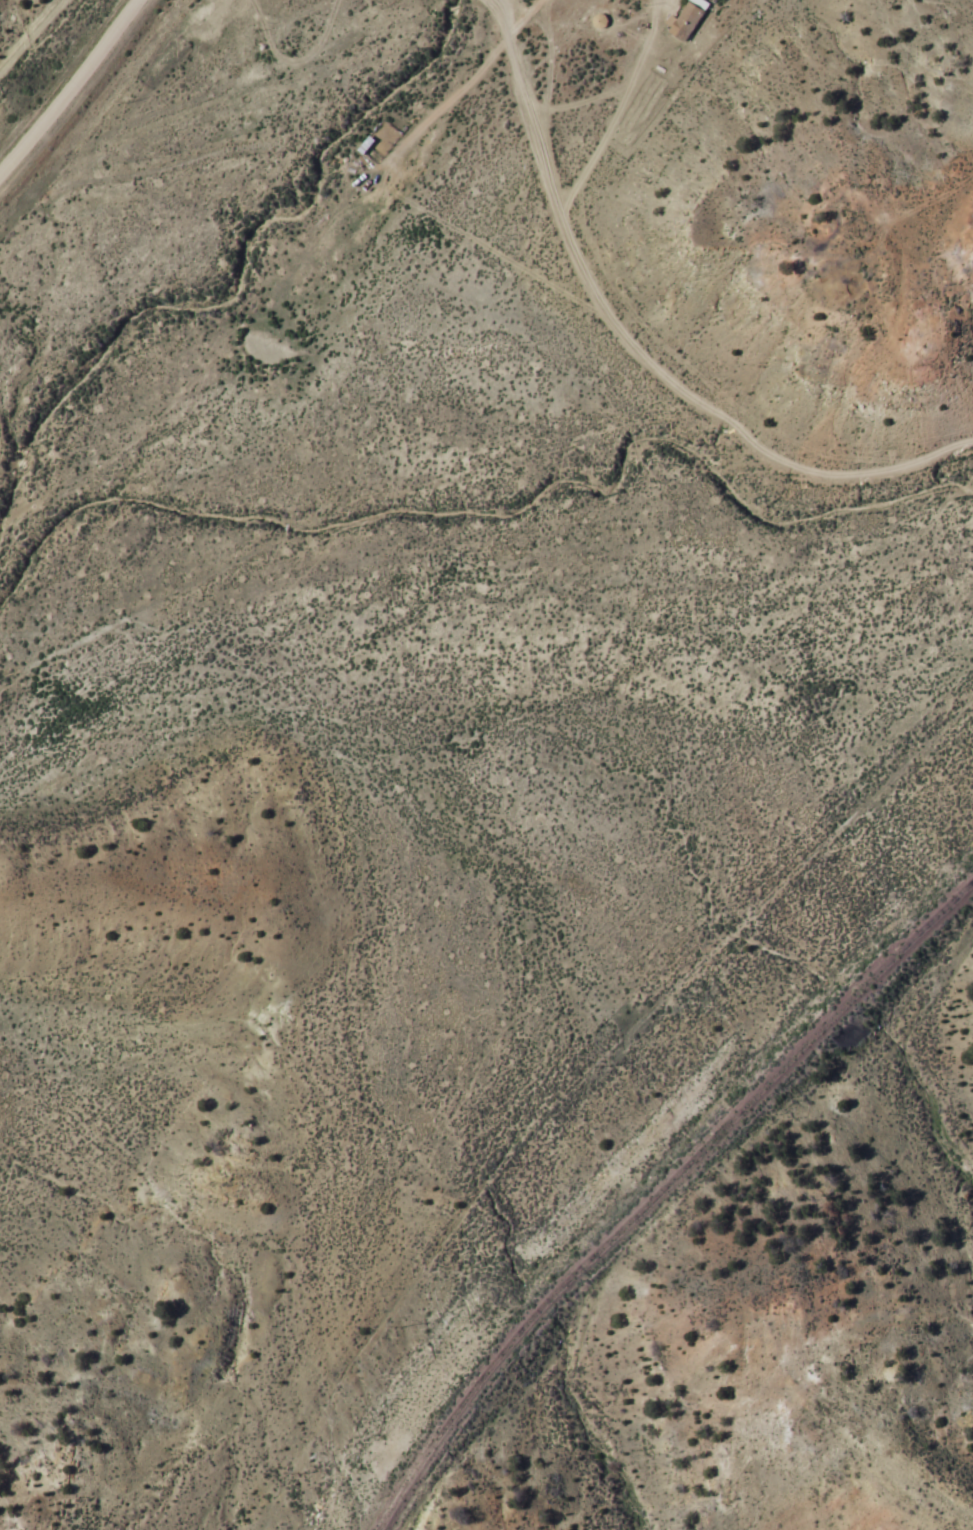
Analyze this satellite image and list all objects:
building: (689, 21)
road: (69, 91)
road: (151, 98)
road: (611, 358)
railway: (660, 1194)

